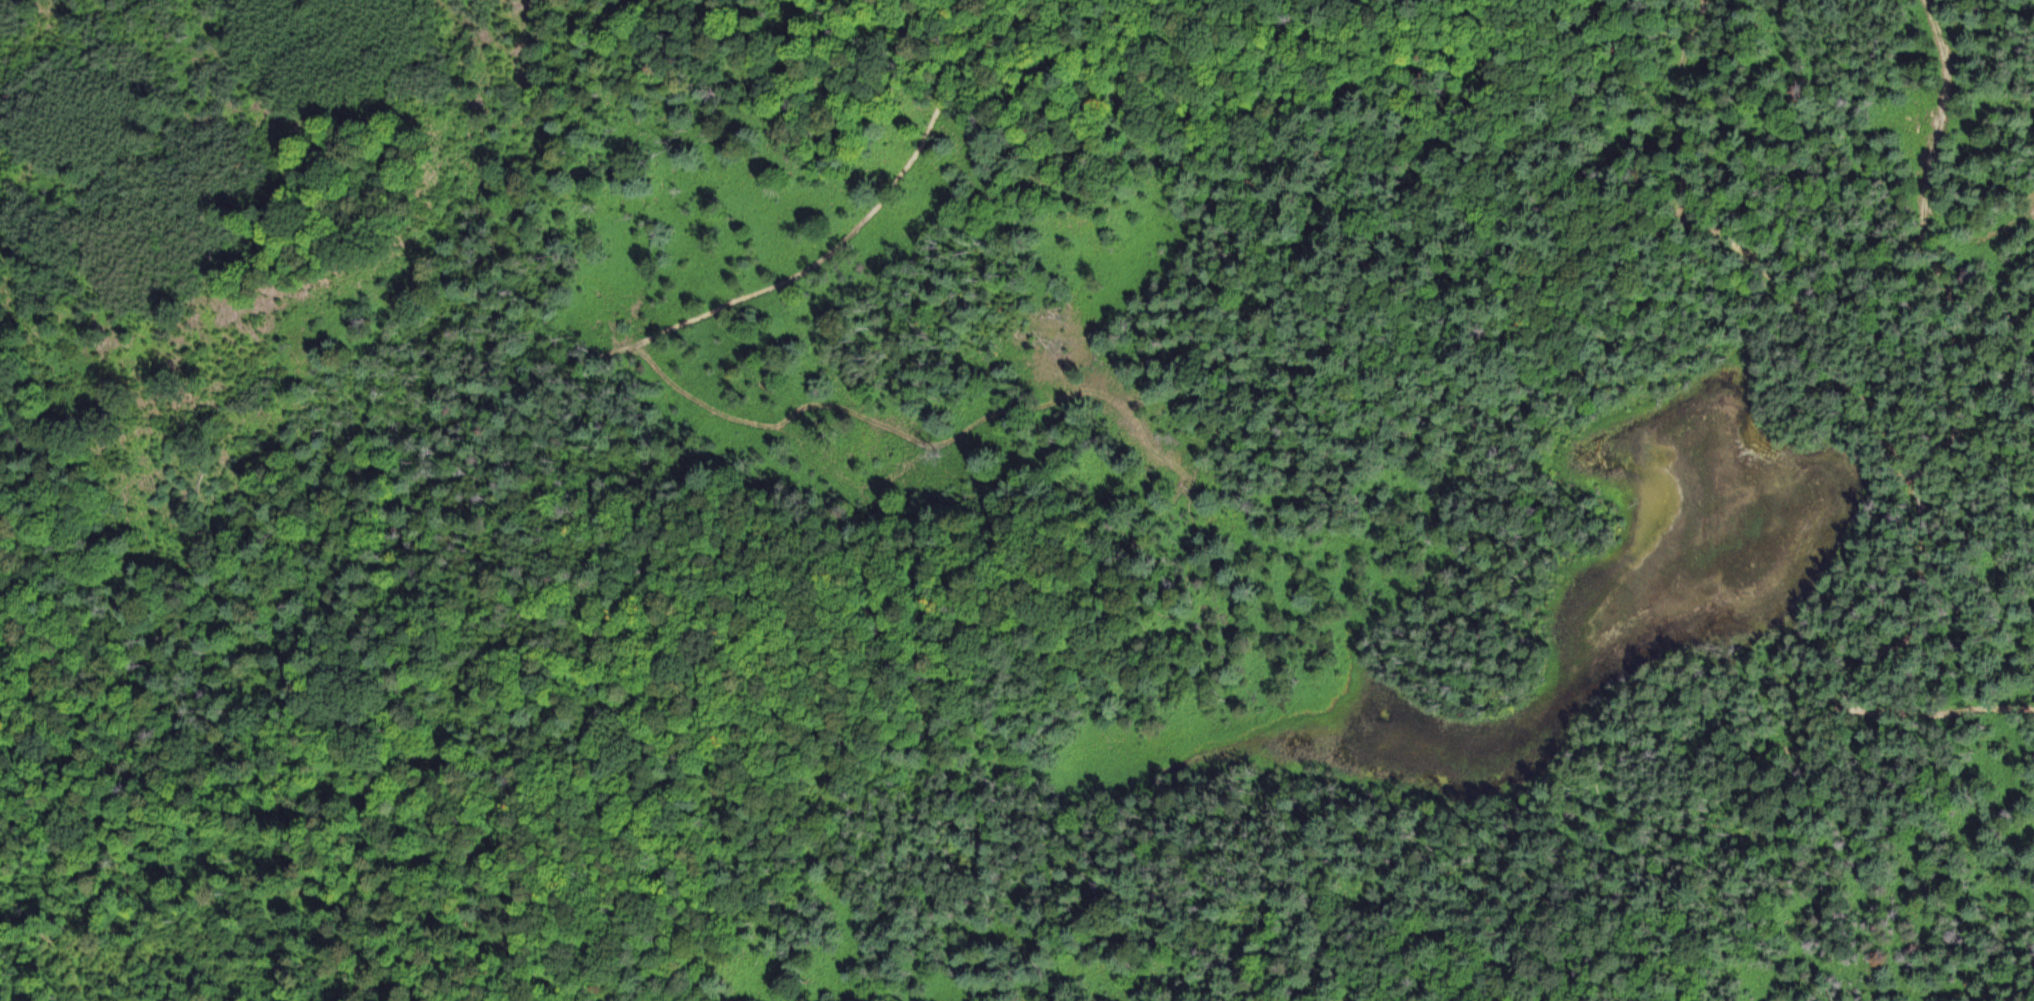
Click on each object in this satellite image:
road: (1940, 102)
road: (1481, 174)
road: (515, 400)
road: (1011, 600)
road: (630, 925)
road: (485, 954)

